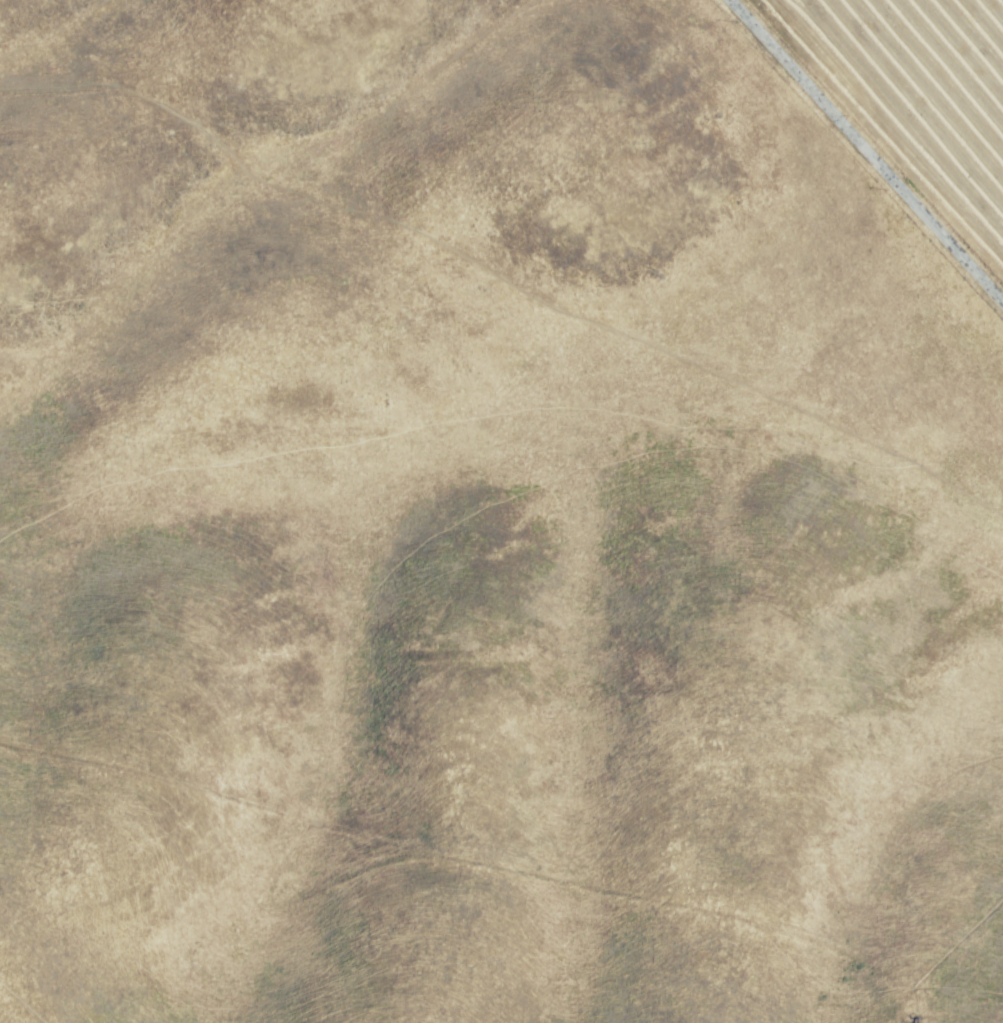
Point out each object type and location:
crop: (937, 81)
road: (860, 157)

